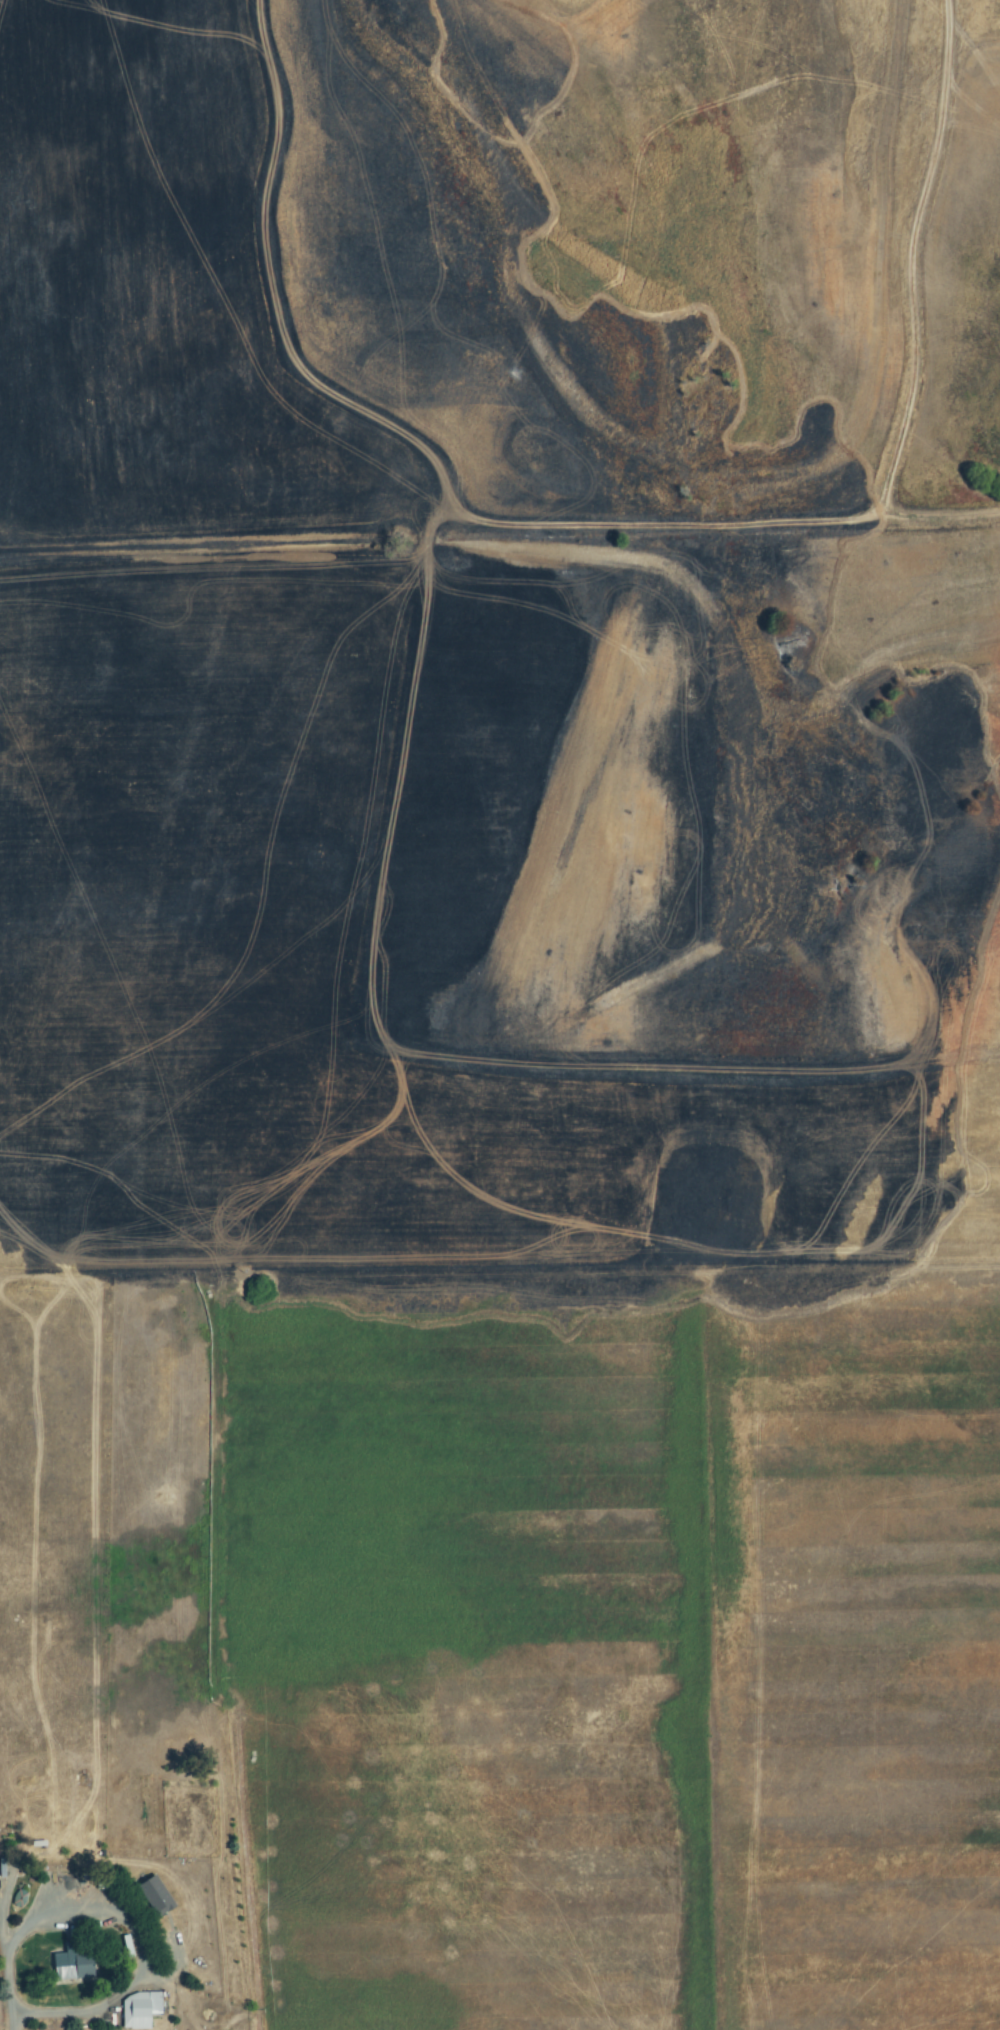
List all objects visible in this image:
building: (154, 1896)
road: (125, 1919)
building: (70, 1965)
building: (138, 2010)
road: (11, 2022)

